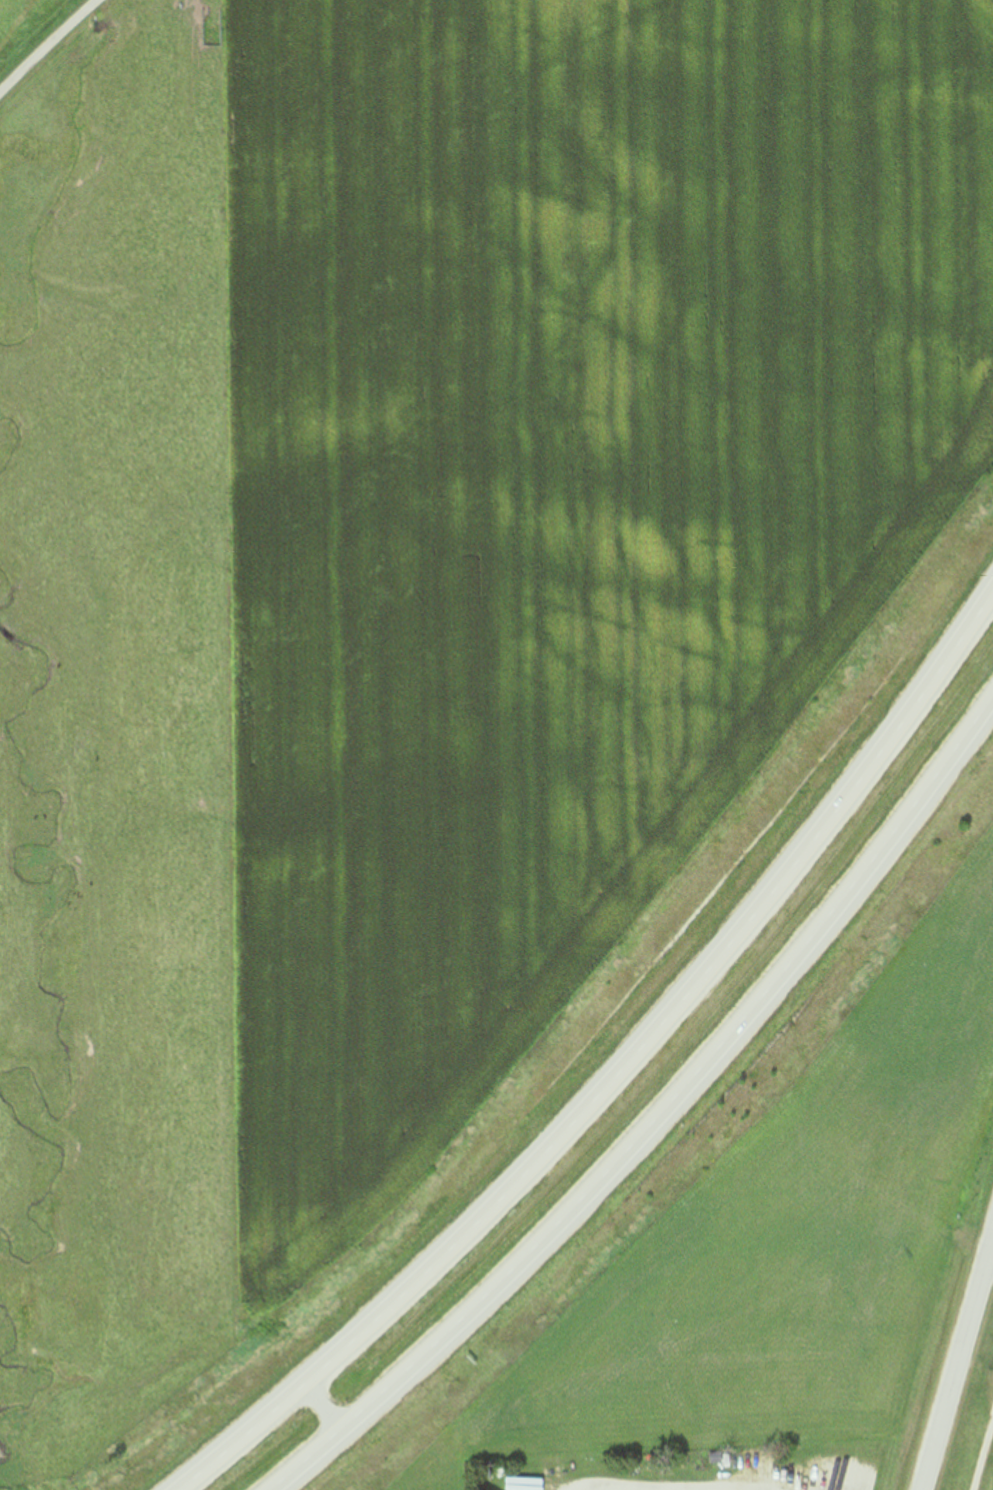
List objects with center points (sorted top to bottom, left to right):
road: (45, 46)
road: (622, 1072)
road: (657, 1121)
road: (954, 1359)
road: (325, 1406)

